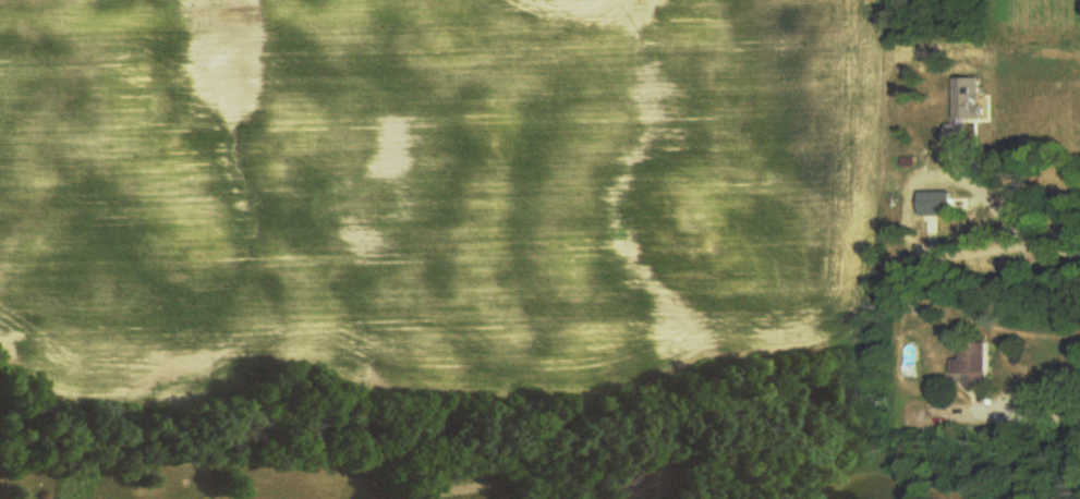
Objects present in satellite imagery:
building: (975, 367)
road: (1035, 414)

